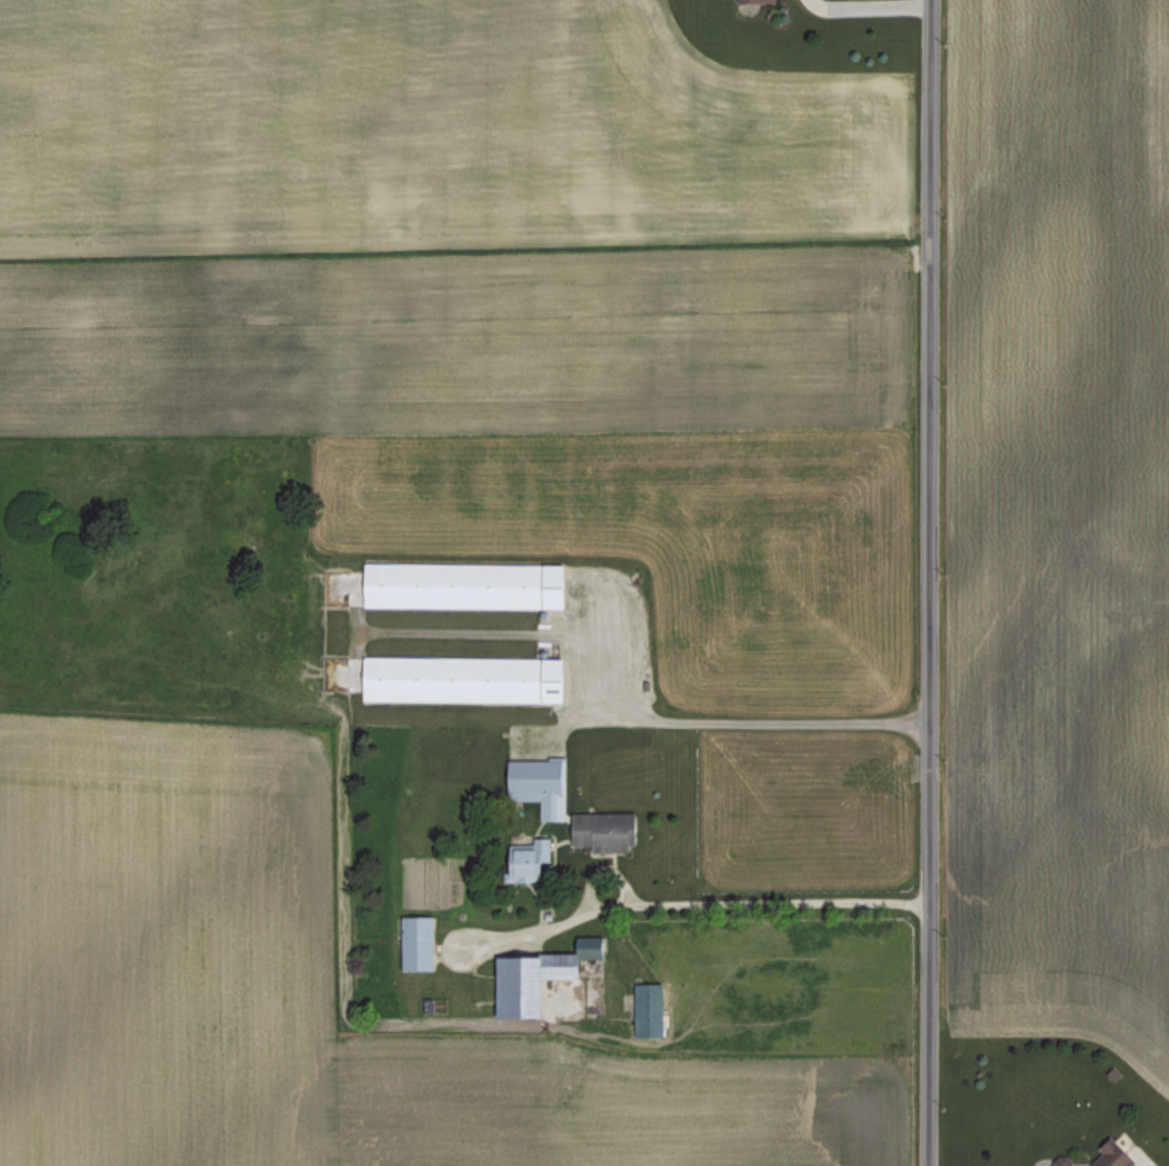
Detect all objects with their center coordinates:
building: (762, 0)
road: (868, 6)
building: (469, 583)
road: (925, 583)
building: (467, 677)
road: (717, 716)
building: (542, 783)
building: (605, 829)
building: (533, 859)
road: (681, 903)
building: (421, 940)
building: (537, 976)
building: (651, 1007)
building: (1105, 1154)
building: (1059, 1162)

